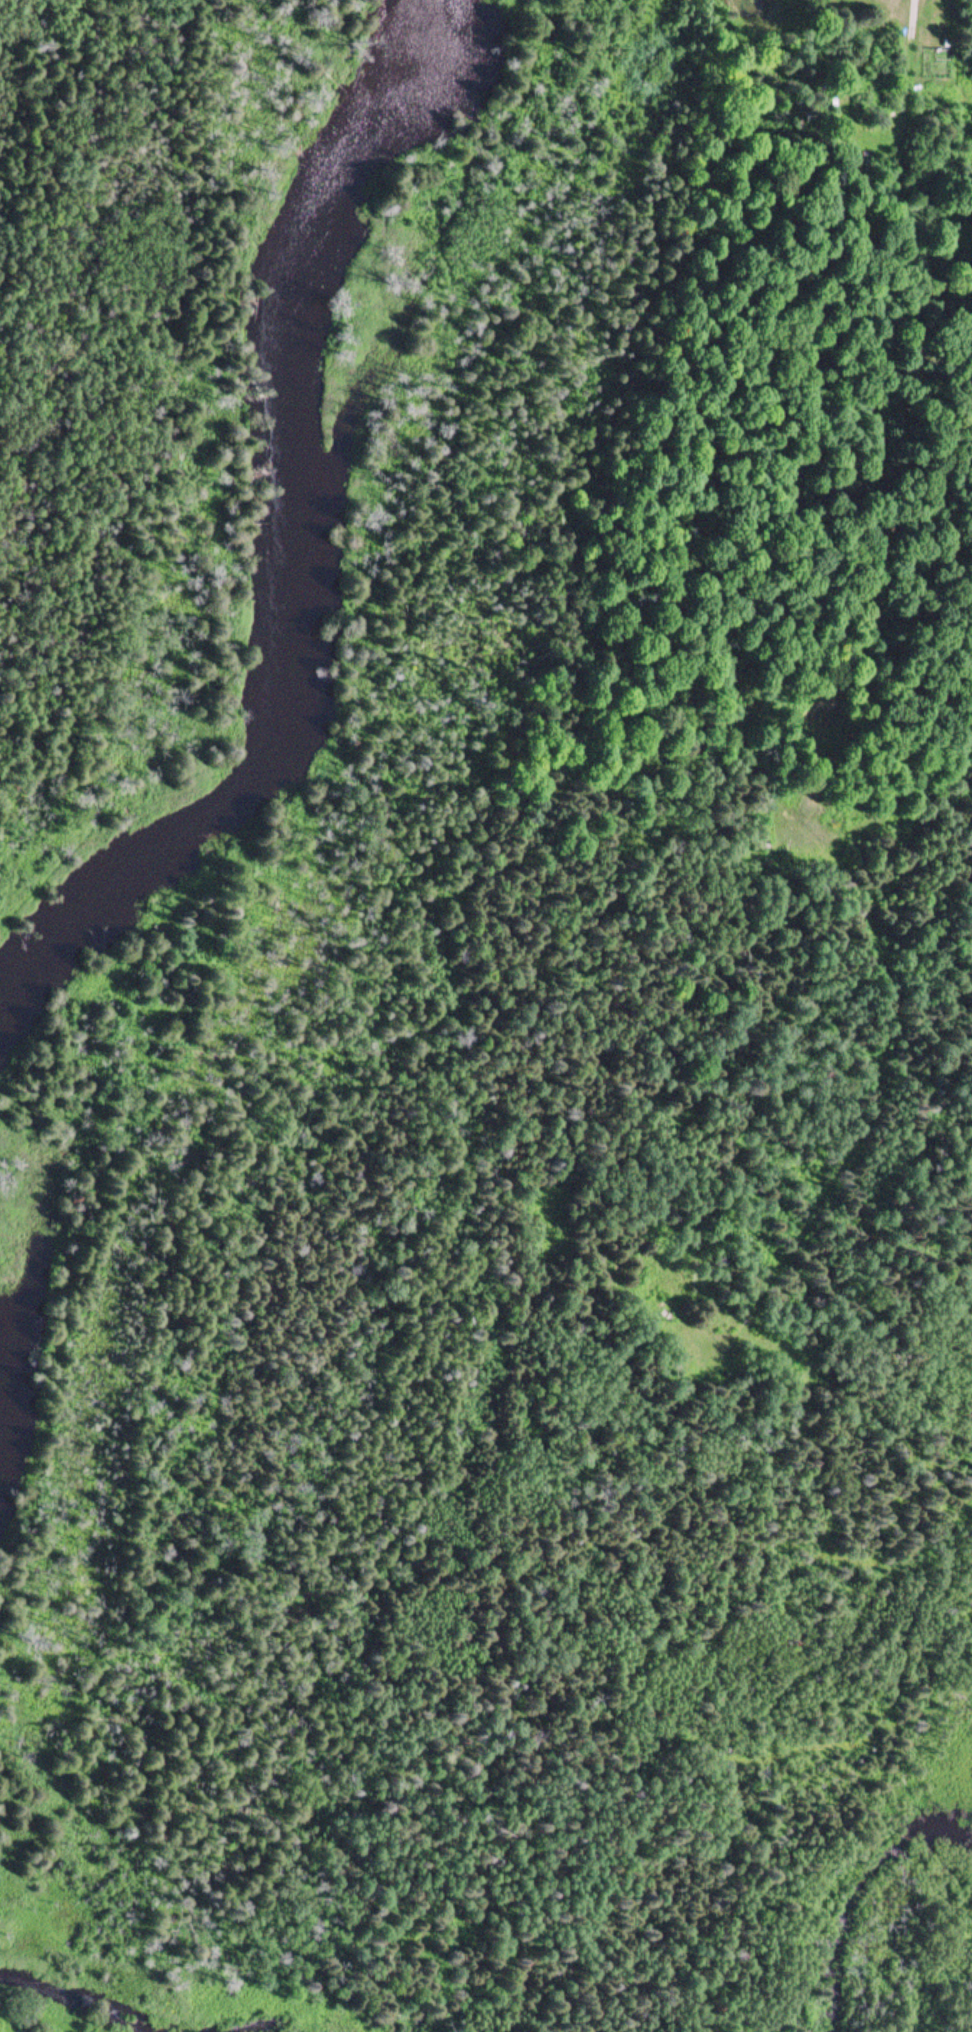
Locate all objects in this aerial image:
river: (305, 542)
river: (15, 1370)

